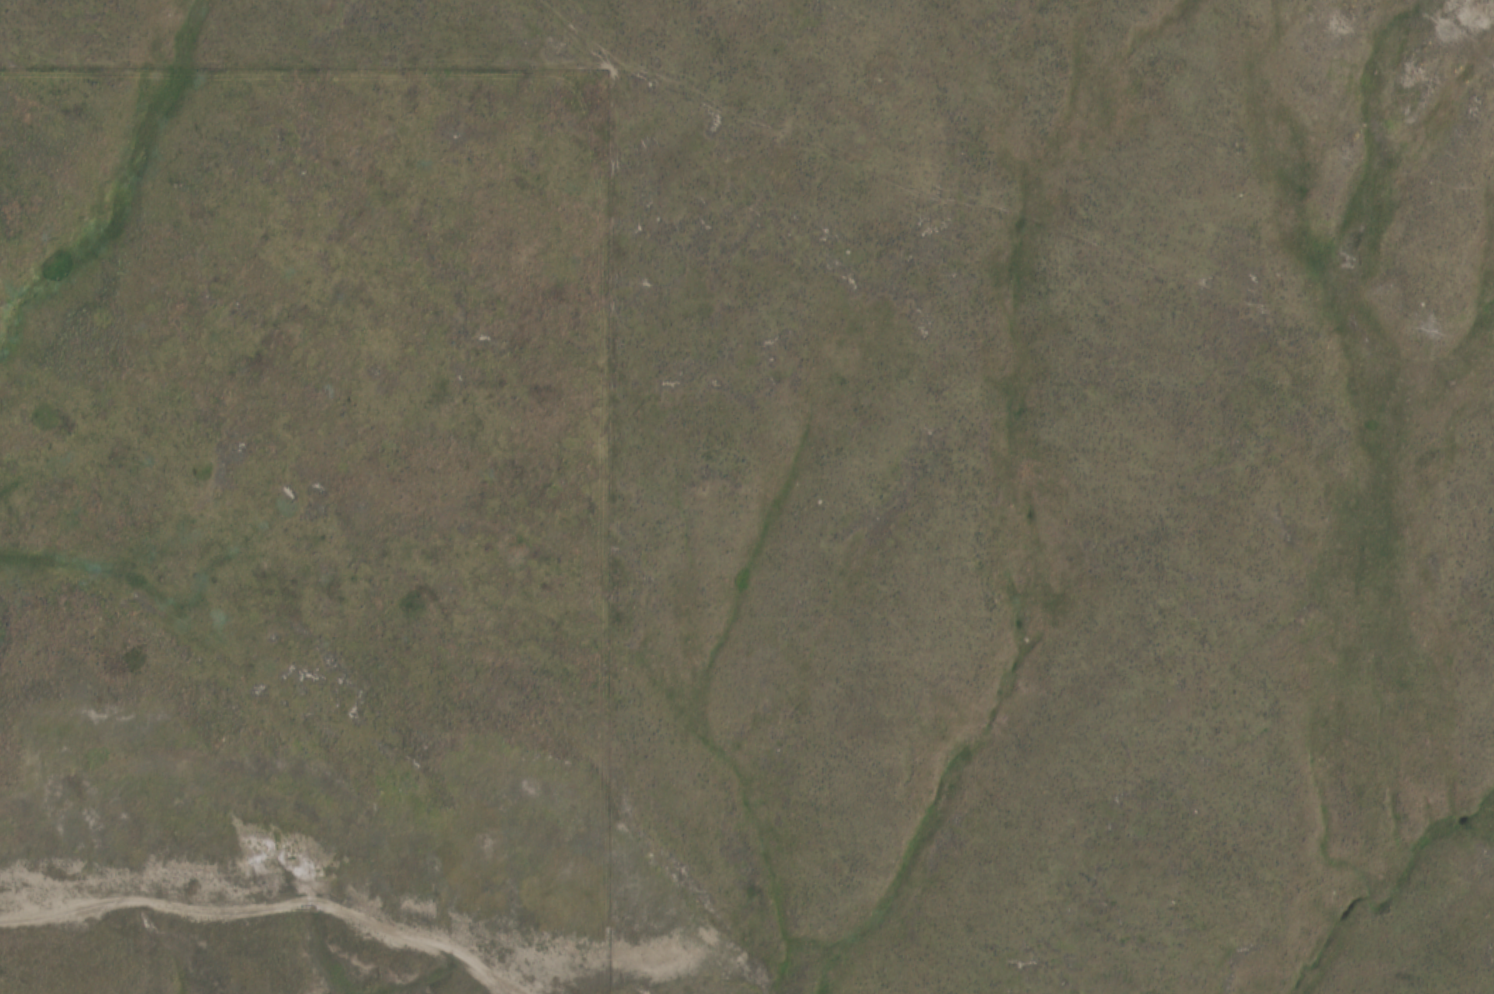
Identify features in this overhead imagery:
road: (267, 912)

